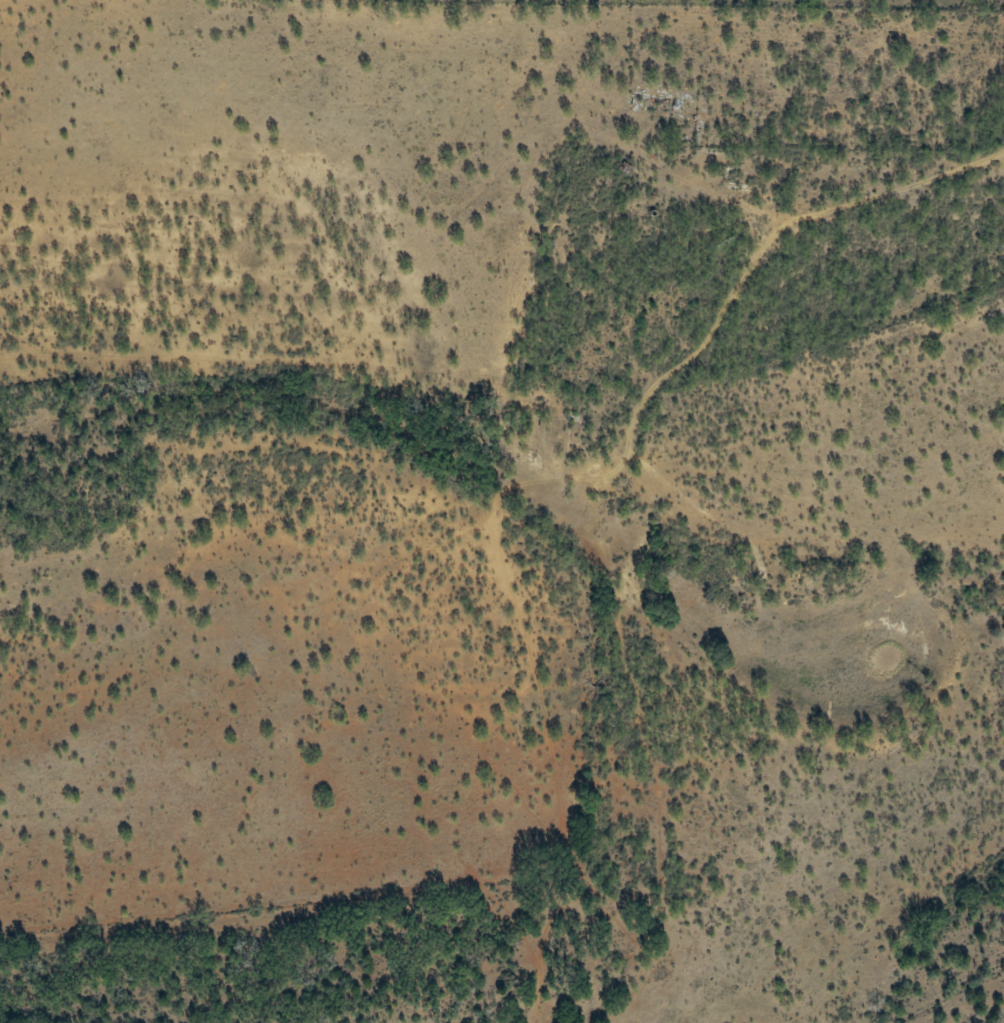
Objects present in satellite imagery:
road: (829, 234)

